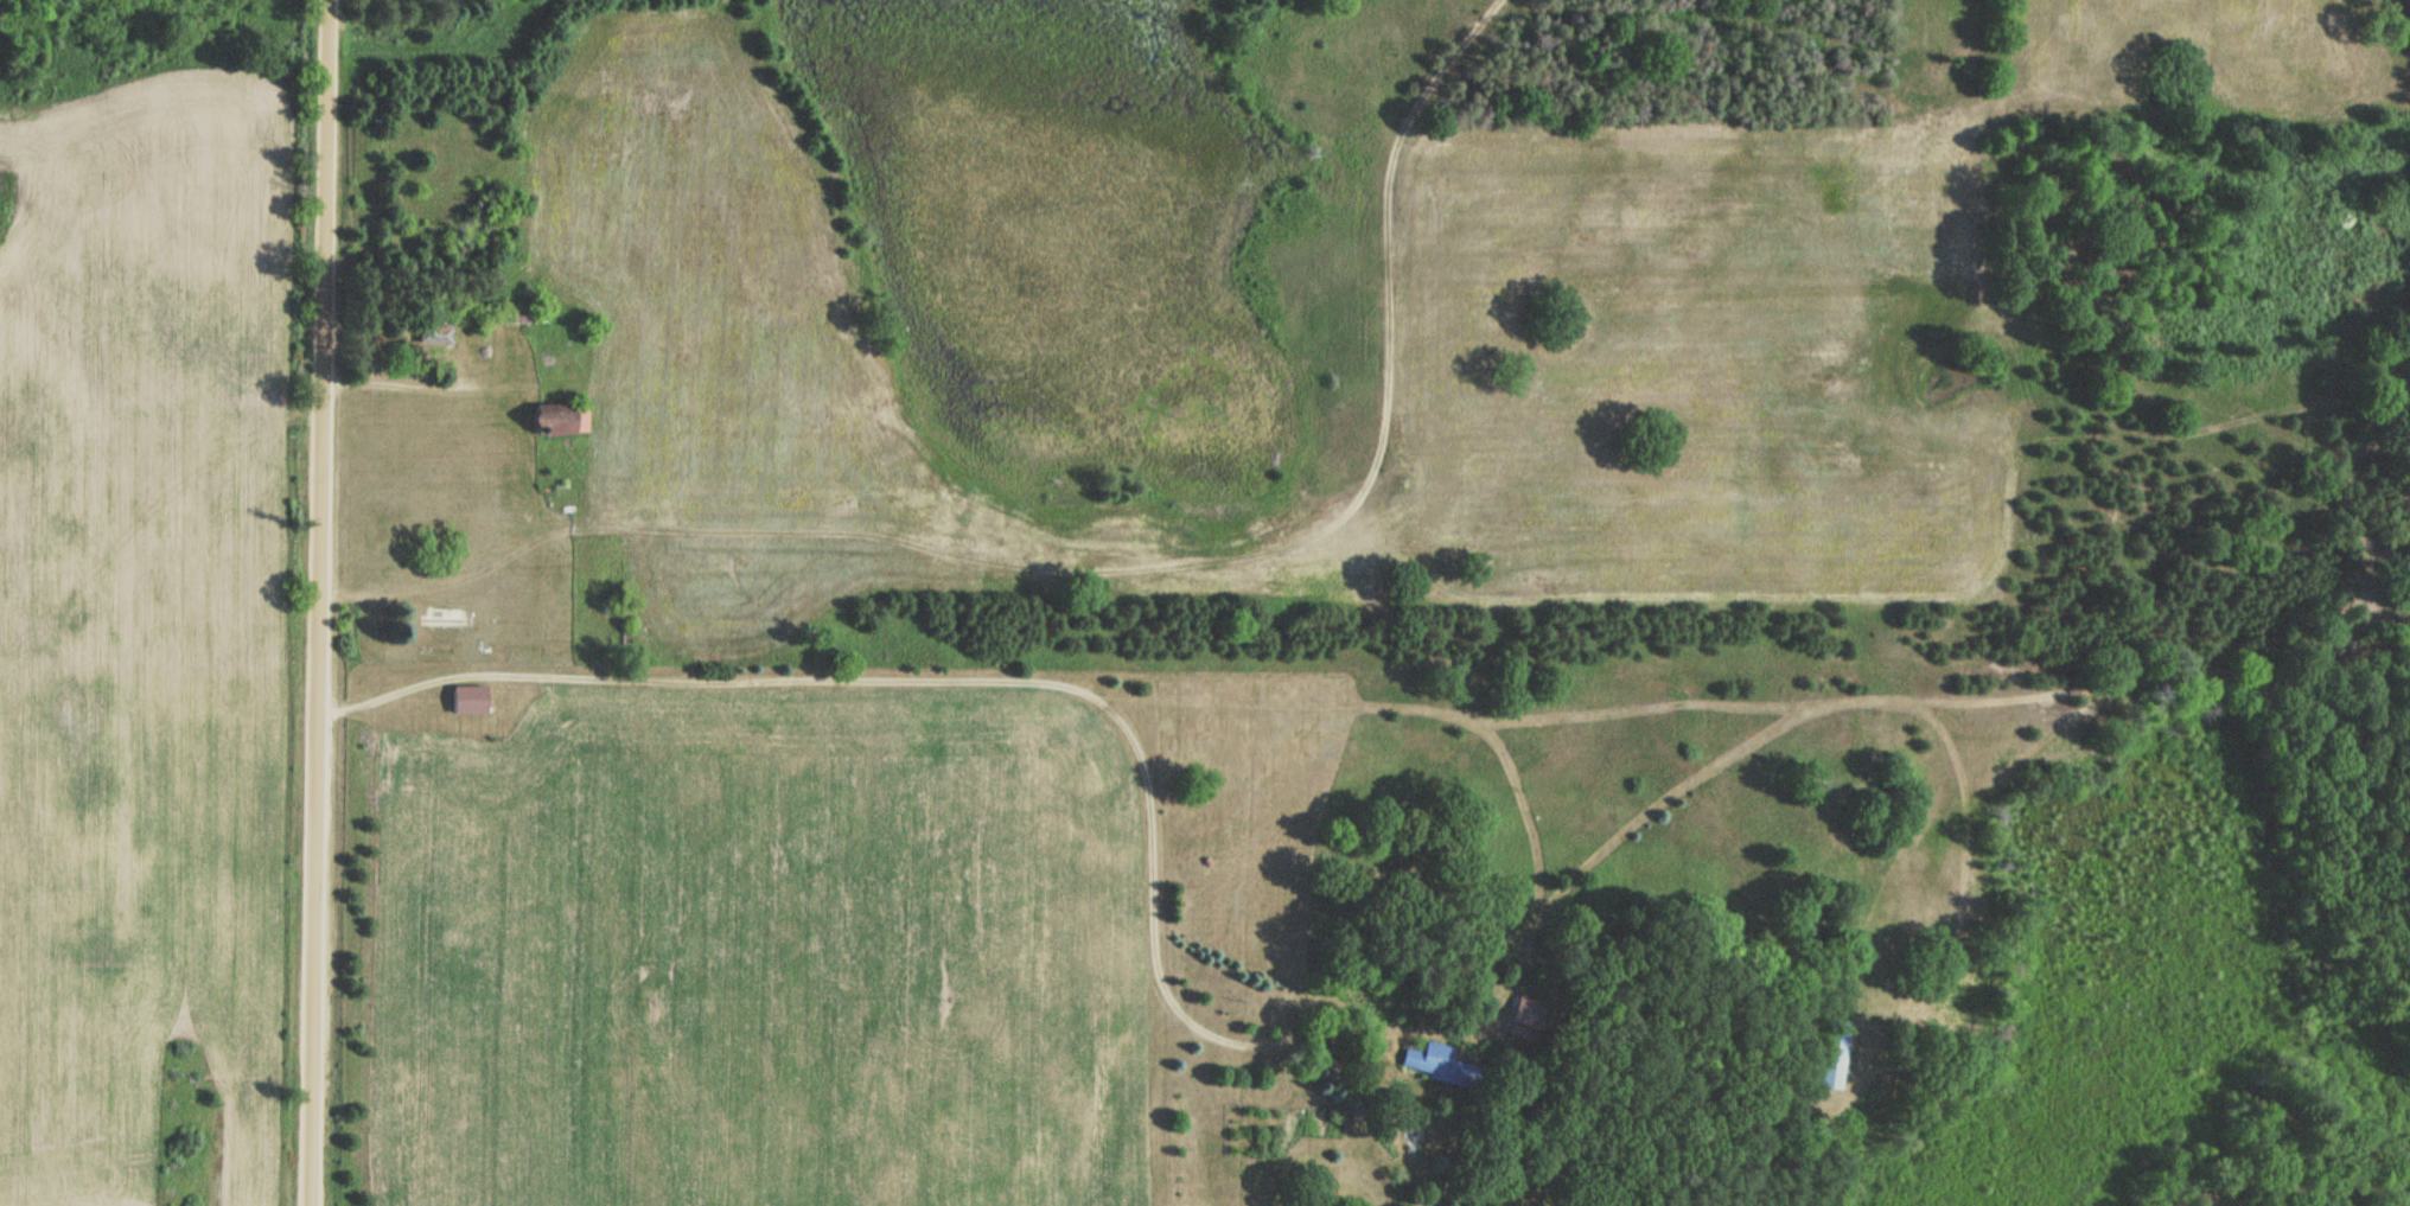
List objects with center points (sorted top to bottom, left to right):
building: (435, 330)
road: (396, 382)
building: (560, 414)
road: (1109, 570)
road: (318, 602)
building: (444, 621)
road: (969, 679)
building: (468, 695)
building: (1838, 1055)
building: (1436, 1061)

